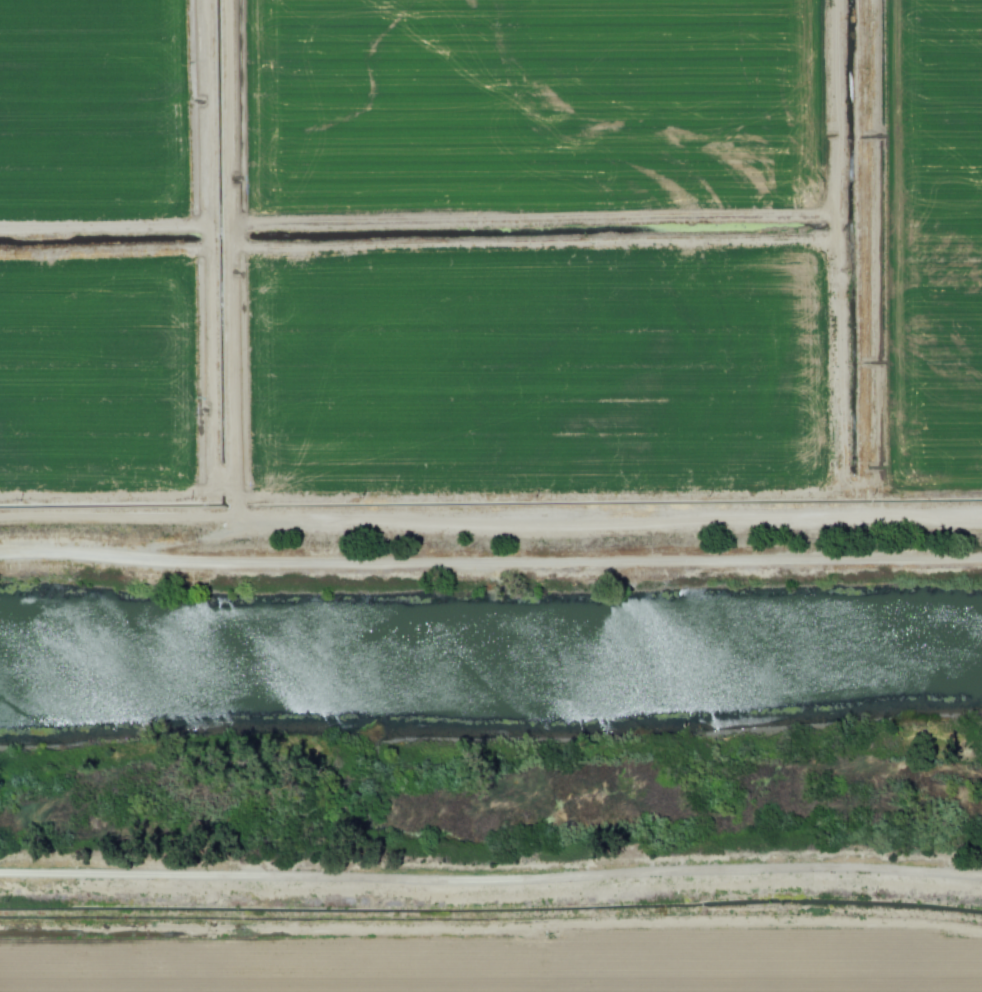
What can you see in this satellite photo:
road: (118, 513)
road: (490, 571)
river: (491, 657)
road: (491, 875)
crop: (508, 940)

